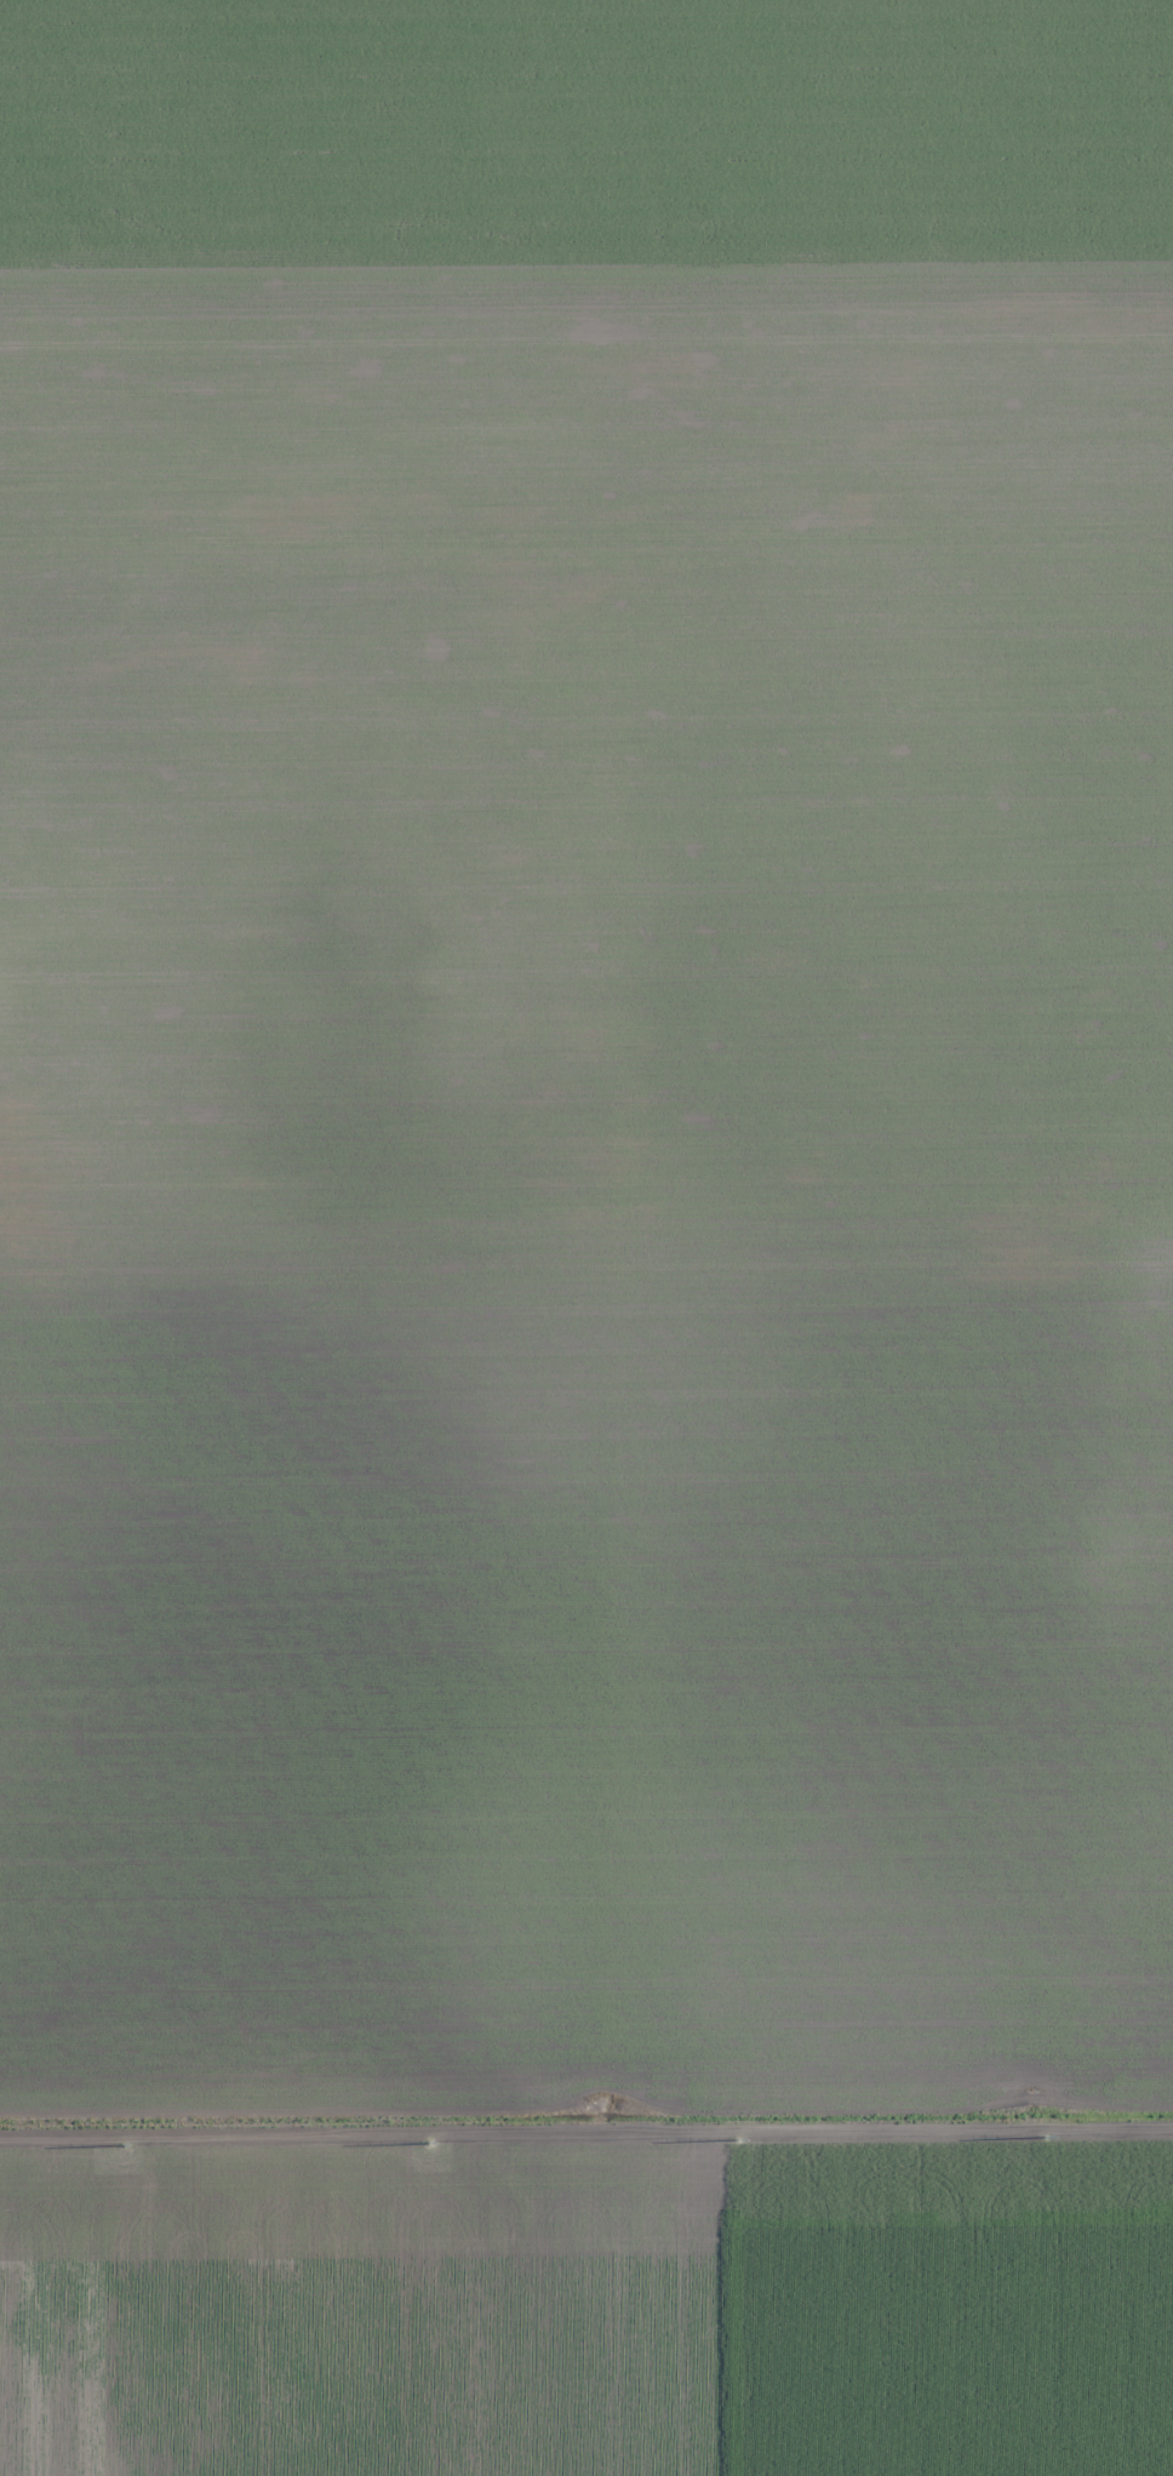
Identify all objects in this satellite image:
power tower: (1052, 2135)
power tower: (746, 2138)
power tower: (434, 2140)
power tower: (130, 2144)

